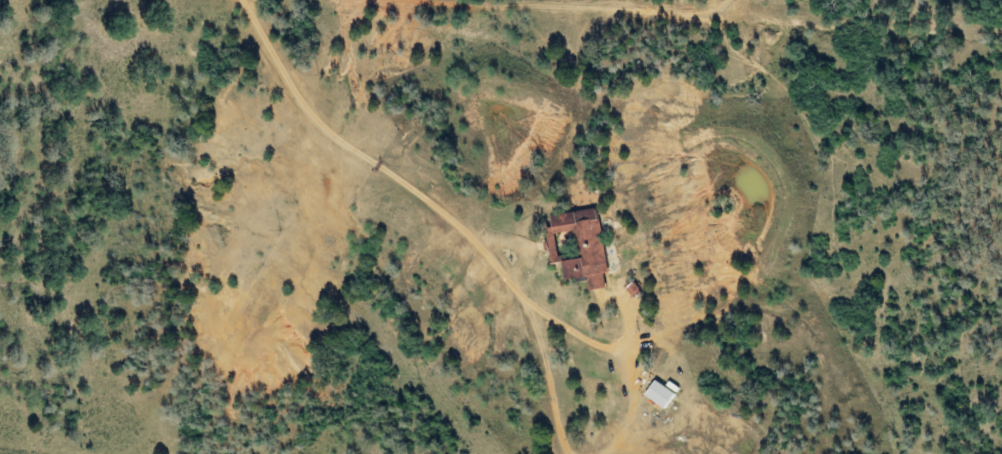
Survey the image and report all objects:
building: (576, 247)
building: (656, 395)

